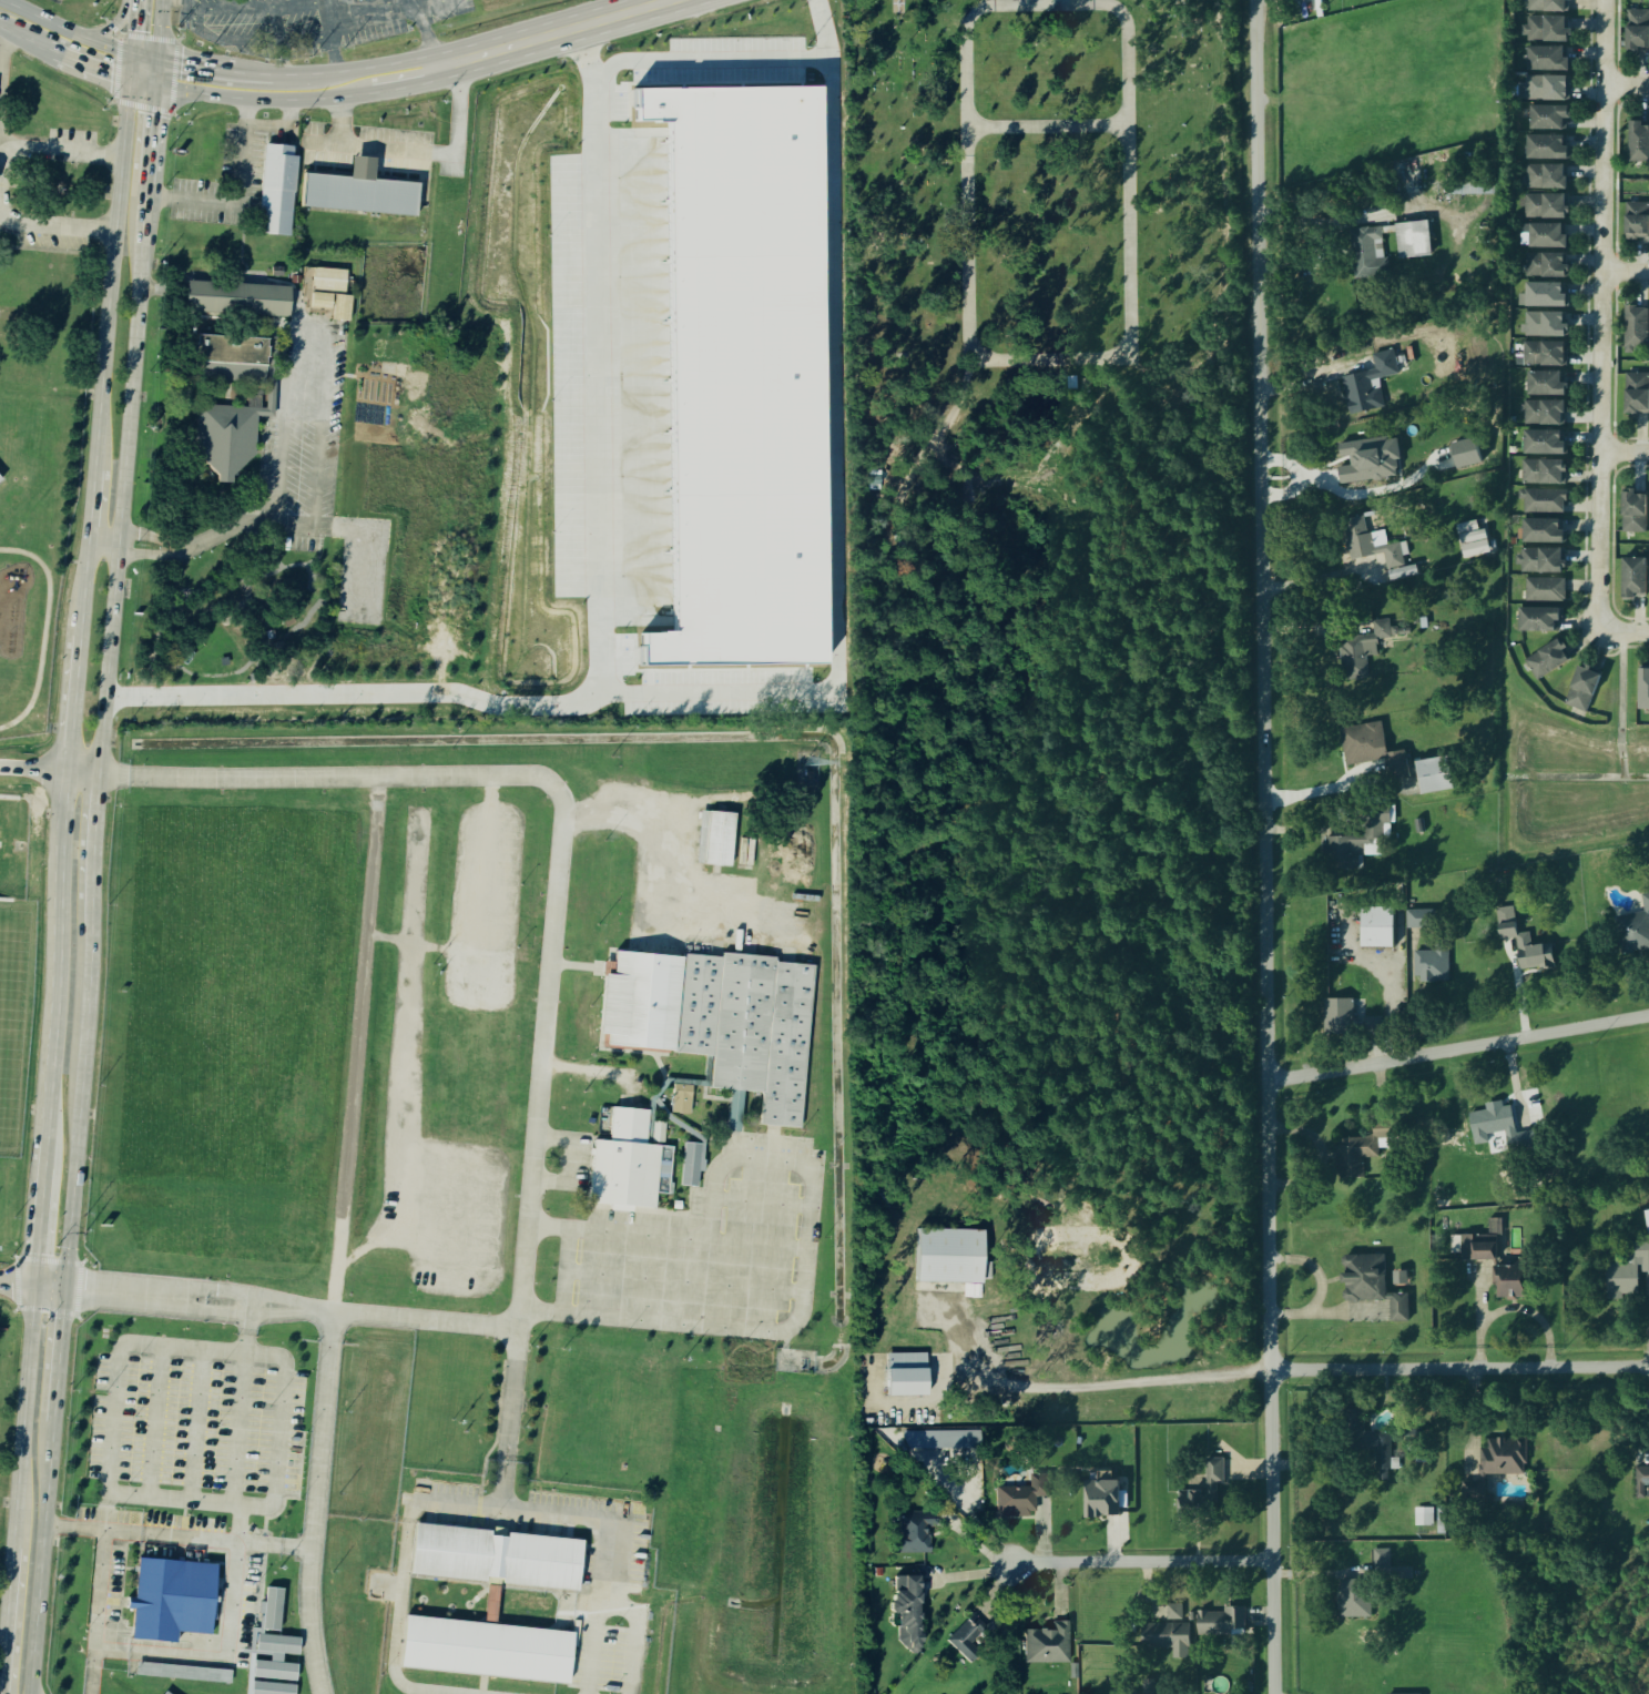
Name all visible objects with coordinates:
road: (138, 1)
road: (1032, 1)
road: (429, 3)
building: (1546, 6)
road: (190, 7)
road: (381, 11)
road: (197, 22)
road: (114, 27)
road: (65, 28)
road: (134, 28)
road: (160, 29)
building: (1545, 30)
building: (1636, 32)
road: (552, 33)
road: (26, 35)
road: (428, 37)
road: (335, 51)
road: (144, 55)
road: (285, 58)
building: (1545, 60)
road: (712, 61)
road: (91, 64)
road: (3, 65)
road: (131, 65)
road: (213, 69)
road: (353, 69)
road: (156, 71)
traffic signals: (130, 78)
road: (405, 79)
road: (142, 81)
traffic signals: (155, 84)
road: (1627, 87)
building: (1545, 90)
road: (264, 98)
building: (1547, 119)
road: (1047, 126)
road: (150, 140)
building: (1638, 143)
building: (1544, 149)
road: (60, 150)
road: (419, 153)
building: (1544, 177)
building: (277, 189)
building: (359, 190)
building: (1472, 190)
road: (237, 196)
park: (1040, 201)
building: (1543, 207)
building: (1636, 222)
road: (55, 224)
building: (1545, 237)
building: (1411, 241)
building: (1367, 254)
road: (113, 265)
building: (1543, 266)
building: (276, 271)
road: (1627, 272)
building: (294, 280)
building: (329, 280)
building: (1543, 296)
building: (237, 297)
building: (320, 301)
building: (342, 308)
road: (1604, 315)
building: (1544, 326)
building: (1635, 329)
road: (308, 332)
building: (1543, 355)
road: (1038, 357)
building: (742, 375)
building: (1543, 385)
building: (1366, 386)
building: (1636, 394)
building: (1543, 414)
road: (319, 430)
building: (225, 437)
building: (1543, 444)
road: (1626, 453)
building: (1467, 455)
building: (1373, 461)
building: (1541, 473)
building: (0, 478)
road: (123, 485)
road: (267, 495)
road: (93, 497)
building: (1544, 503)
building: (1632, 513)
road: (275, 529)
building: (1541, 532)
road: (104, 540)
building: (1473, 541)
building: (1368, 545)
building: (1539, 561)
building: (1631, 580)
road: (85, 582)
building: (1544, 590)
building: (1537, 621)
road: (44, 630)
road: (1623, 631)
building: (1361, 651)
building: (1545, 661)
building: (1581, 690)
building: (1642, 691)
road: (353, 694)
road: (725, 694)
road: (75, 699)
building: (1356, 745)
building: (1396, 765)
road: (32, 769)
road: (82, 772)
road: (397, 775)
building: (1432, 777)
building: (712, 835)
road: (1264, 846)
building: (1373, 849)
road: (96, 850)
building: (1341, 853)
building: (1421, 920)
building: (1377, 927)
building: (1635, 932)
building: (1521, 943)
road: (58, 953)
building: (1433, 964)
park: (6, 978)
building: (711, 1015)
building: (1337, 1018)
road: (1458, 1048)
road: (571, 1067)
building: (680, 1100)
road: (82, 1107)
building: (1499, 1129)
building: (1366, 1149)
building: (624, 1160)
building: (690, 1164)
road: (42, 1210)
building: (1647, 1221)
road: (569, 1228)
road: (338, 1235)
road: (802, 1251)
building: (1482, 1252)
building: (948, 1255)
building: (1627, 1270)
road: (18, 1284)
building: (1507, 1284)
traffic signals: (37, 1286)
building: (1371, 1286)
road: (51, 1287)
traffic signals: (67, 1288)
road: (519, 1290)
road: (248, 1328)
road: (161, 1345)
road: (60, 1361)
road: (1459, 1368)
building: (907, 1382)
road: (1111, 1382)
road: (26, 1417)
road: (510, 1418)
road: (156, 1421)
road: (199, 1424)
road: (240, 1428)
building: (1413, 1436)
building: (939, 1440)
building: (1365, 1441)
building: (1503, 1458)
building: (1641, 1482)
building: (1201, 1492)
building: (1020, 1497)
building: (1101, 1500)
road: (510, 1505)
road: (106, 1511)
building: (1423, 1518)
road: (238, 1522)
building: (914, 1532)
road: (177, 1535)
building: (491, 1554)
road: (1143, 1561)
road: (42, 1563)
building: (1381, 1564)
building: (173, 1597)
building: (1353, 1600)
building: (490, 1605)
building: (271, 1611)
road: (99, 1612)
building: (906, 1612)
building: (1172, 1613)
road: (8, 1620)
building: (1218, 1623)
road: (160, 1633)
building: (1166, 1636)
building: (967, 1642)
building: (479, 1645)
building: (1046, 1645)
road: (220, 1657)
building: (274, 1659)
building: (184, 1672)
road: (1, 1675)
building: (272, 1688)
building: (165, 1693)

